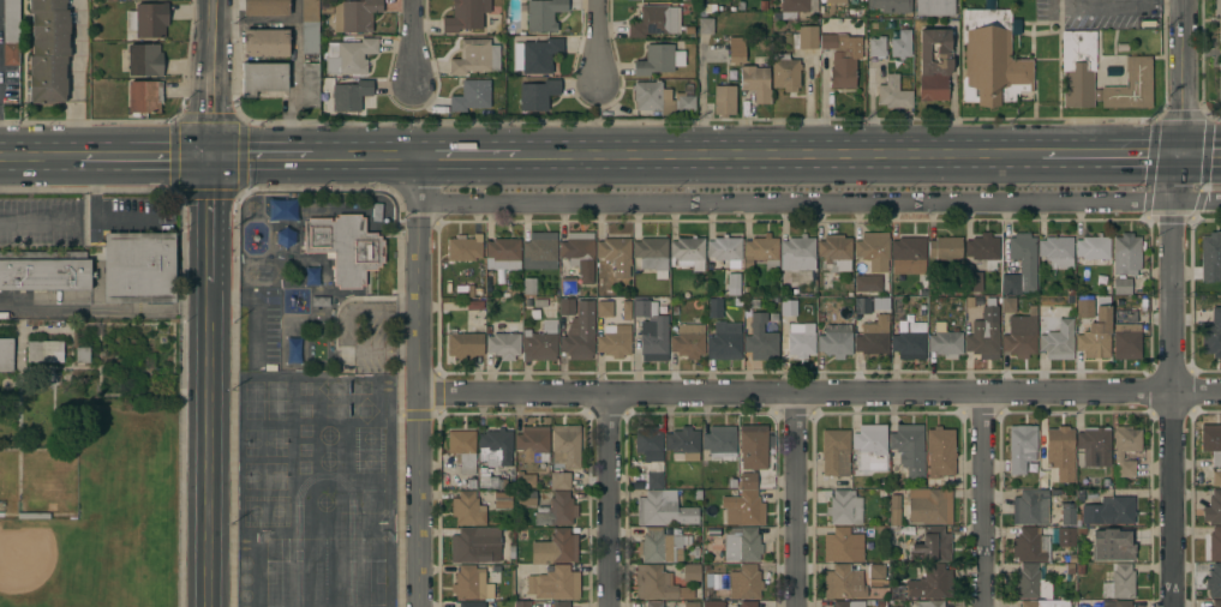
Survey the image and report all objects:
building: (836, 1)
building: (890, 5)
road: (1117, 5)
building: (265, 7)
building: (796, 7)
building: (935, 7)
building: (544, 13)
building: (354, 14)
building: (466, 16)
building: (1217, 17)
building: (148, 20)
building: (653, 20)
building: (706, 25)
building: (310, 26)
building: (11, 32)
building: (806, 37)
road: (209, 38)
building: (265, 43)
road: (413, 44)
building: (900, 44)
building: (876, 47)
road: (595, 48)
building: (48, 50)
building: (736, 50)
building: (713, 53)
building: (539, 55)
building: (349, 56)
building: (475, 56)
building: (992, 56)
building: (842, 59)
building: (144, 60)
building: (658, 60)
building: (933, 64)
building: (1078, 67)
building: (784, 72)
road: (1178, 77)
building: (262, 78)
road: (76, 79)
building: (755, 83)
building: (1219, 83)
building: (310, 85)
building: (1131, 85)
building: (893, 94)
building: (349, 95)
building: (537, 95)
building: (143, 96)
building: (471, 96)
building: (662, 98)
road: (700, 98)
building: (724, 101)
road: (209, 118)
road: (365, 155)
road: (469, 155)
road: (1198, 155)
road: (779, 156)
road: (1108, 156)
traffic signals: (1177, 156)
road: (37, 157)
road: (258, 157)
road: (142, 158)
traffic signals: (209, 158)
road: (820, 204)
building: (376, 212)
road: (209, 216)
road: (38, 224)
building: (345, 247)
building: (465, 248)
building: (945, 248)
building: (983, 250)
building: (539, 251)
building: (1091, 251)
building: (761, 252)
building: (836, 252)
building: (873, 252)
building: (1057, 252)
building: (579, 253)
building: (687, 253)
building: (797, 253)
building: (503, 254)
building: (1126, 254)
building: (652, 256)
building: (908, 256)
building: (1210, 257)
building: (725, 258)
building: (614, 259)
building: (1021, 265)
building: (138, 268)
building: (44, 271)
building: (872, 283)
building: (972, 284)
building: (568, 286)
building: (528, 287)
building: (1121, 287)
building: (1008, 305)
building: (862, 306)
building: (788, 307)
road: (103, 308)
building: (605, 308)
building: (714, 308)
building: (626, 311)
building: (1125, 317)
building: (577, 329)
building: (1093, 329)
building: (651, 332)
building: (1021, 335)
building: (1211, 335)
building: (761, 337)
building: (1055, 337)
building: (801, 339)
building: (873, 339)
building: (908, 339)
building: (983, 339)
building: (615, 341)
building: (688, 341)
building: (836, 341)
building: (1126, 341)
building: (724, 342)
building: (945, 342)
building: (540, 343)
building: (504, 344)
building: (465, 345)
building: (44, 351)
building: (82, 354)
building: (6, 355)
road: (421, 380)
road: (1175, 380)
road: (821, 393)
building: (870, 439)
building: (1022, 439)
road: (208, 440)
building: (533, 443)
building: (720, 443)
building: (650, 444)
building: (683, 444)
building: (1211, 444)
building: (565, 445)
building: (1095, 446)
building: (495, 447)
building: (909, 449)
building: (462, 450)
building: (1126, 450)
building: (836, 452)
building: (940, 452)
building: (1060, 452)
building: (752, 455)
building: (1017, 467)
building: (1215, 479)
building: (490, 480)
building: (526, 481)
building: (561, 481)
building: (654, 481)
building: (526, 499)
building: (502, 500)
road: (612, 500)
road: (796, 500)
road: (981, 501)
building: (929, 506)
building: (742, 507)
building: (1030, 507)
building: (844, 509)
building: (1213, 509)
building: (467, 510)
building: (556, 510)
building: (663, 510)
building: (894, 510)
building: (1108, 511)
building: (1067, 515)
building: (1041, 543)
building: (475, 545)
building: (741, 545)
building: (932, 545)
building: (1113, 545)
building: (1215, 545)
building: (659, 546)
building: (843, 546)
building: (555, 548)
building: (692, 572)
building: (876, 576)
building: (1214, 581)
building: (1120, 582)
building: (471, 583)
building: (553, 583)
building: (744, 583)
building: (843, 583)
building: (930, 583)
building: (1030, 583)
building: (658, 584)
building: (522, 603)
building: (654, 603)
building: (712, 603)
building: (748, 603)
building: (849, 603)
building: (930, 603)
building: (1028, 603)
building: (1119, 603)
building: (1216, 603)
building: (471, 605)
building: (561, 605)
building: (690, 605)

